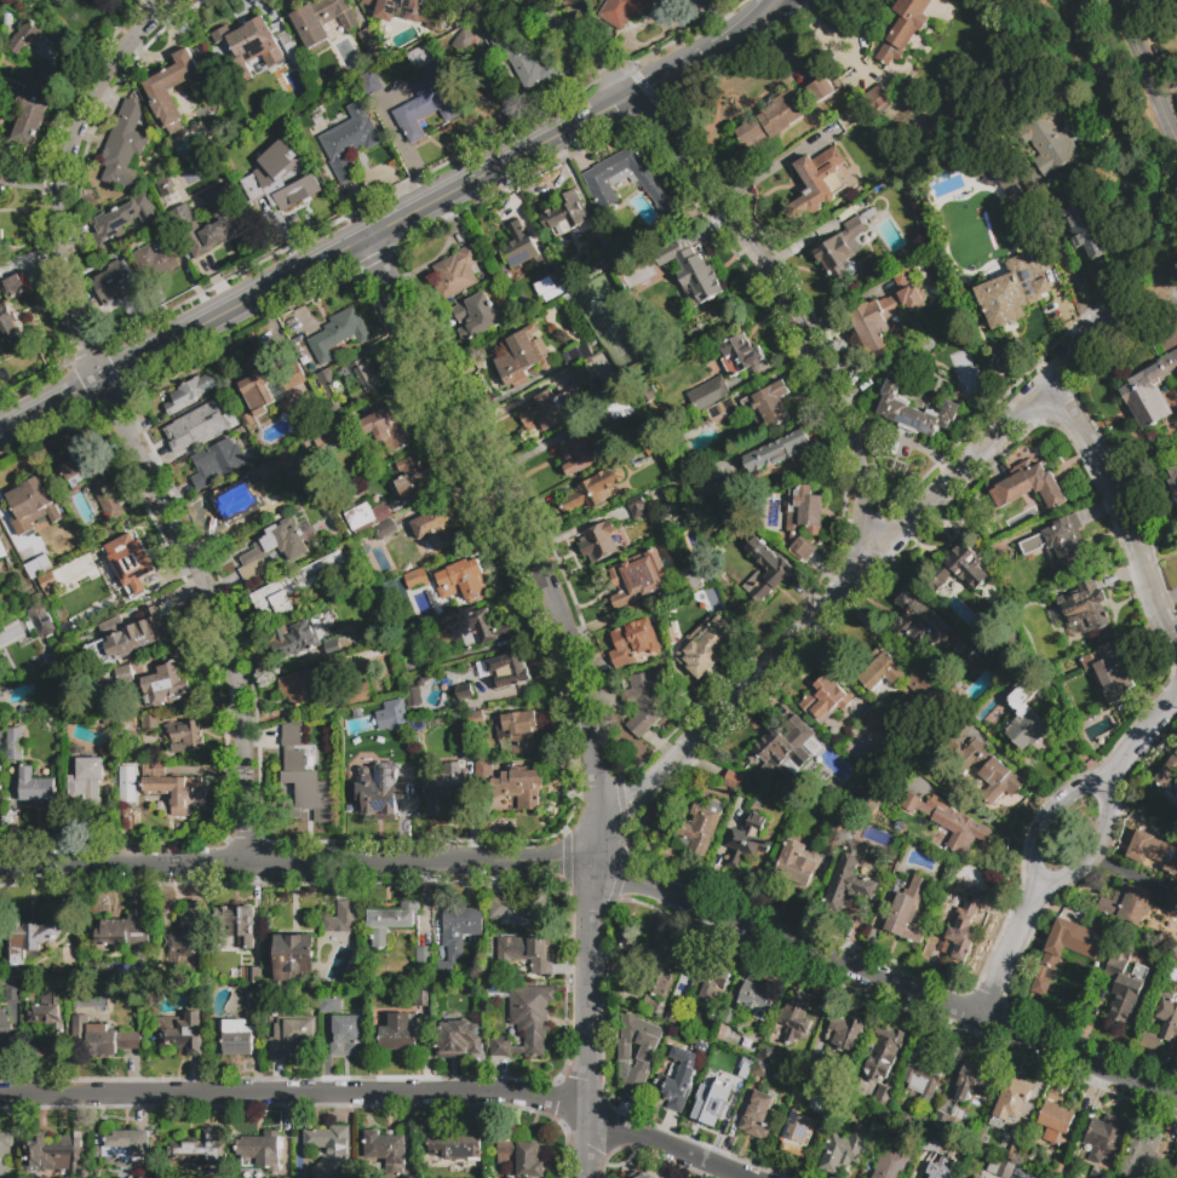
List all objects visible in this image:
building: (1166, 1)
building: (628, 10)
building: (412, 11)
road: (568, 15)
building: (320, 19)
building: (901, 29)
building: (22, 39)
building: (464, 44)
road: (573, 44)
building: (371, 45)
building: (249, 46)
building: (420, 57)
building: (522, 62)
road: (1146, 67)
building: (480, 82)
building: (369, 84)
building: (168, 90)
building: (877, 100)
building: (31, 102)
building: (848, 109)
building: (425, 111)
building: (783, 113)
building: (348, 140)
building: (1051, 144)
building: (124, 146)
building: (288, 150)
road: (65, 174)
building: (817, 182)
building: (599, 185)
building: (165, 186)
building: (1, 194)
building: (287, 195)
building: (565, 212)
building: (182, 213)
building: (122, 219)
road: (396, 224)
building: (217, 226)
building: (1086, 230)
building: (0, 235)
building: (843, 247)
building: (521, 249)
building: (612, 258)
building: (156, 265)
building: (690, 271)
building: (457, 272)
building: (905, 276)
building: (115, 285)
building: (15, 287)
building: (1012, 291)
road: (783, 308)
building: (883, 316)
building: (476, 317)
building: (8, 324)
building: (338, 333)
building: (929, 349)
building: (576, 355)
building: (522, 356)
building: (742, 356)
building: (580, 374)
building: (371, 378)
building: (269, 383)
building: (329, 384)
building: (1149, 391)
building: (191, 392)
building: (645, 395)
building: (708, 395)
building: (770, 406)
building: (723, 410)
building: (913, 410)
building: (546, 412)
building: (614, 418)
building: (199, 426)
building: (384, 427)
building: (332, 433)
building: (653, 447)
building: (780, 452)
building: (579, 454)
building: (218, 461)
building: (413, 477)
building: (1173, 477)
building: (94, 482)
building: (702, 484)
building: (1028, 485)
building: (591, 490)
building: (240, 501)
building: (281, 504)
road: (506, 504)
building: (31, 505)
building: (638, 507)
road: (1119, 513)
building: (367, 517)
building: (803, 519)
building: (437, 528)
building: (386, 529)
building: (597, 541)
building: (1060, 542)
building: (2, 550)
building: (272, 550)
building: (34, 562)
building: (128, 564)
building: (959, 564)
building: (765, 574)
building: (417, 577)
building: (461, 579)
building: (637, 579)
building: (47, 581)
building: (694, 581)
road: (842, 584)
building: (294, 586)
building: (1084, 608)
road: (216, 609)
building: (920, 624)
building: (44, 626)
building: (481, 630)
building: (134, 634)
building: (305, 639)
building: (410, 642)
building: (632, 642)
building: (704, 648)
building: (507, 666)
building: (880, 667)
building: (1112, 673)
building: (127, 677)
building: (168, 685)
building: (303, 686)
building: (926, 691)
building: (464, 693)
building: (414, 696)
building: (645, 699)
building: (822, 699)
building: (1024, 714)
building: (378, 718)
building: (151, 723)
building: (878, 723)
building: (467, 730)
building: (519, 731)
building: (292, 734)
building: (185, 736)
road: (1139, 740)
building: (13, 745)
building: (780, 748)
building: (986, 771)
building: (1167, 772)
building: (733, 778)
building: (86, 782)
building: (507, 783)
building: (35, 787)
building: (172, 788)
building: (308, 789)
building: (442, 789)
building: (381, 791)
road: (1044, 818)
building: (949, 823)
building: (699, 828)
building: (838, 837)
building: (746, 840)
road: (1092, 850)
building: (1153, 851)
road: (596, 862)
road: (246, 863)
building: (797, 864)
building: (849, 881)
building: (1172, 901)
building: (1126, 903)
building: (517, 909)
building: (906, 912)
building: (341, 918)
building: (392, 920)
building: (237, 925)
building: (964, 925)
building: (124, 932)
building: (186, 932)
building: (34, 936)
building: (457, 937)
road: (1006, 953)
building: (526, 954)
building: (424, 955)
building: (293, 956)
building: (1051, 958)
building: (1172, 960)
building: (658, 964)
building: (251, 975)
road: (587, 981)
building: (712, 982)
building: (1123, 984)
building: (13, 994)
building: (757, 996)
building: (423, 999)
building: (254, 1000)
road: (934, 1001)
building: (655, 1010)
building: (796, 1015)
building: (674, 1016)
building: (729, 1017)
building: (1167, 1018)
building: (47, 1022)
building: (526, 1022)
building: (4, 1030)
building: (401, 1033)
building: (182, 1034)
building: (845, 1034)
building: (291, 1035)
building: (350, 1035)
building: (638, 1038)
building: (101, 1039)
building: (237, 1039)
building: (458, 1040)
building: (702, 1046)
building: (885, 1051)
building: (765, 1064)
building: (923, 1070)
building: (637, 1078)
building: (678, 1080)
building: (970, 1081)
road: (378, 1091)
building: (718, 1094)
building: (883, 1094)
building: (1014, 1099)
building: (822, 1107)
building: (758, 1115)
building: (1056, 1121)
building: (941, 1122)
building: (913, 1124)
building: (798, 1131)
building: (1104, 1138)
building: (453, 1148)
building: (201, 1149)
building: (128, 1150)
building: (329, 1150)
building: (386, 1150)
building: (845, 1150)
building: (262, 1151)
building: (4, 1153)
building: (1014, 1154)
building: (1138, 1154)
building: (57, 1156)
building: (524, 1157)
building: (890, 1165)
building: (942, 1167)
building: (1058, 1167)
building: (998, 1168)
building: (1175, 1172)
building: (1022, 1173)
building: (638, 1176)
building: (1098, 1176)
building: (280, 1177)
building: (280, 1177)
building: (971, 1177)
building: (978, 1177)

